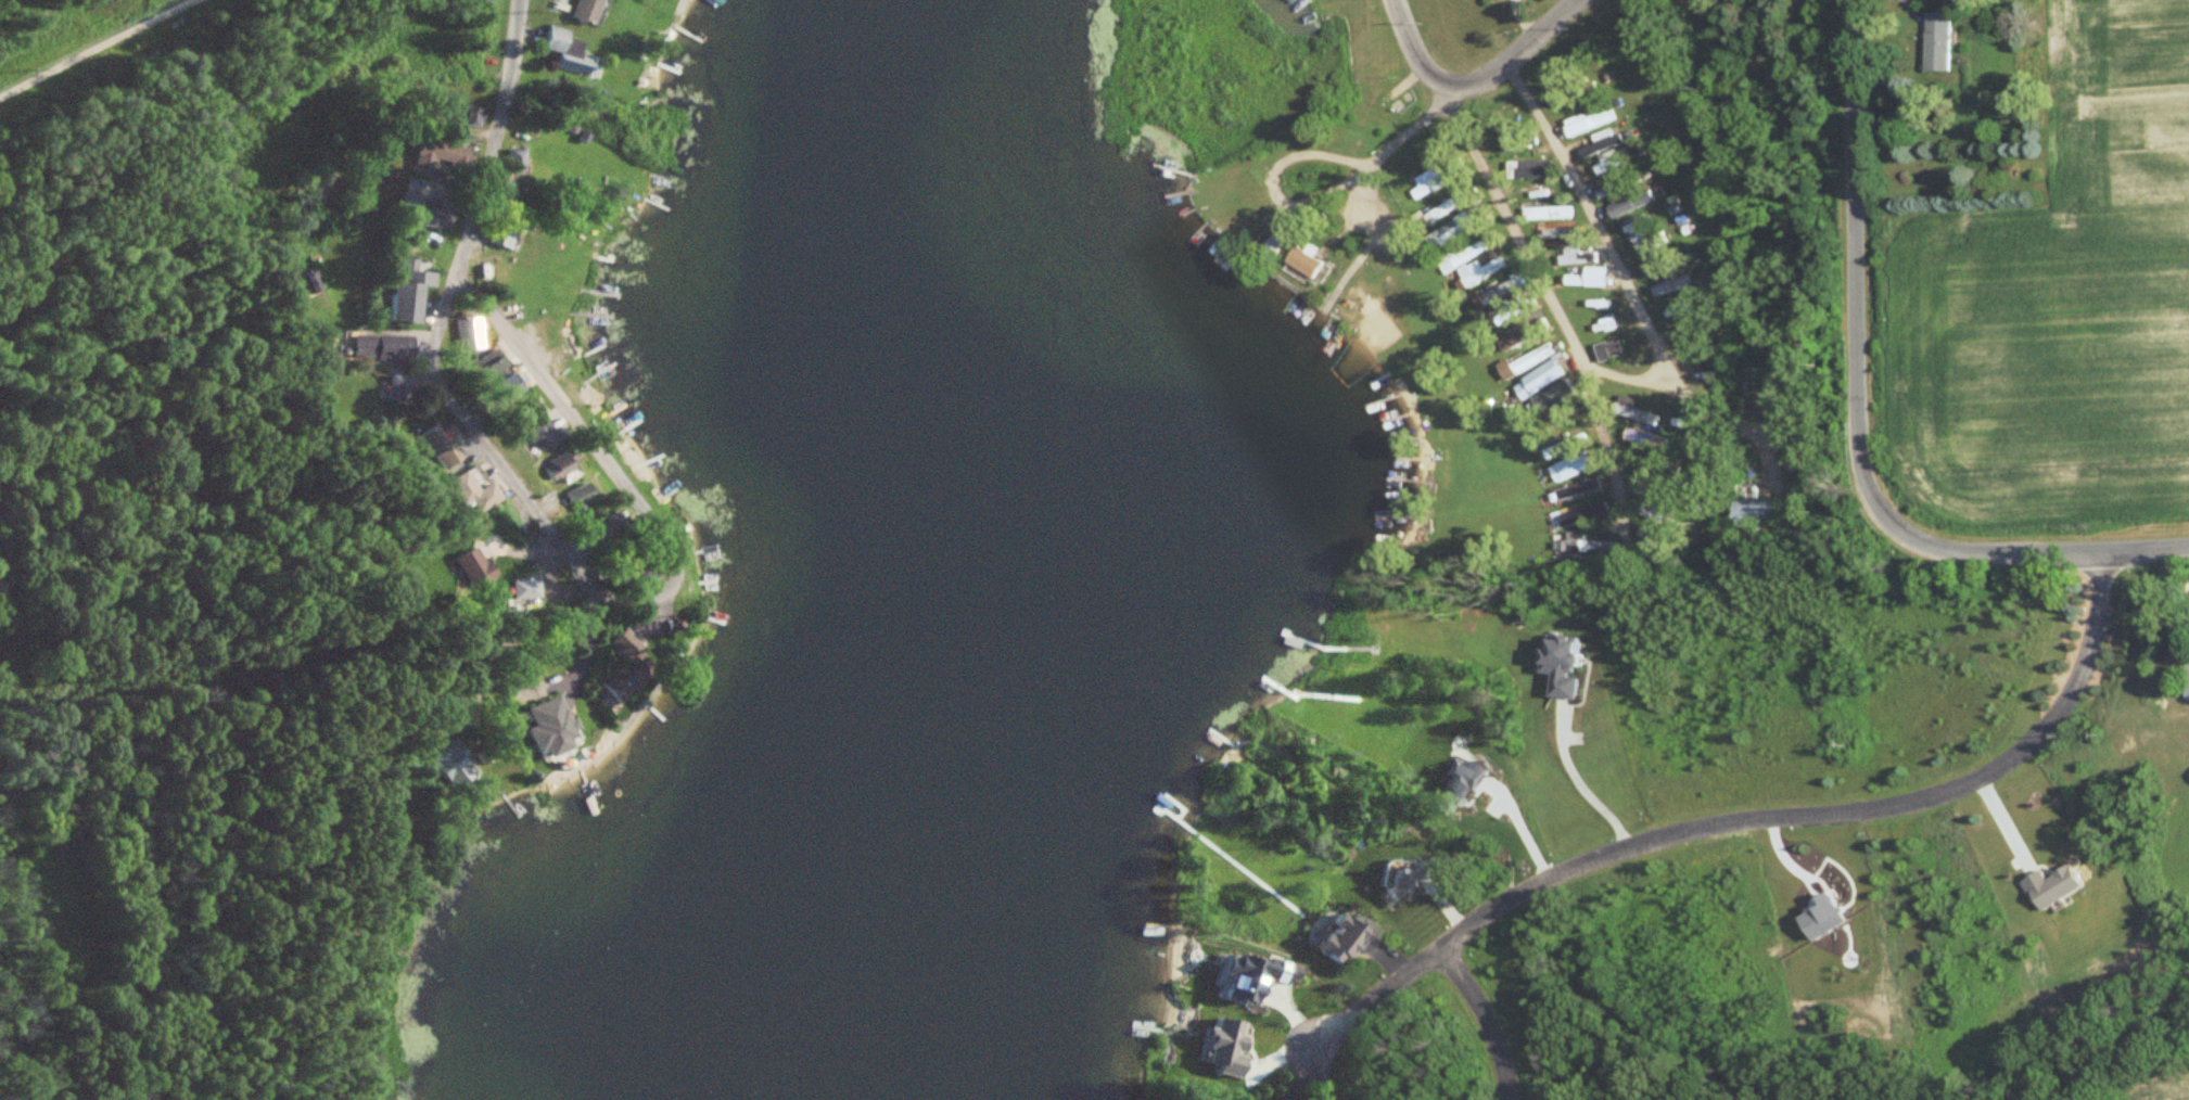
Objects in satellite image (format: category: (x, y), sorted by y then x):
building: (583, 11)
building: (1940, 43)
road: (1410, 44)
road: (93, 46)
building: (564, 52)
road: (1516, 55)
building: (472, 116)
building: (1591, 124)
road: (494, 145)
building: (1603, 145)
building: (440, 157)
building: (516, 159)
road: (1361, 166)
building: (1530, 171)
building: (1429, 184)
building: (1538, 194)
road: (1369, 200)
road: (1588, 206)
building: (1632, 207)
building: (1442, 213)
building: (425, 214)
building: (1542, 217)
road: (1856, 226)
building: (502, 235)
building: (1551, 235)
building: (1448, 236)
building: (1645, 244)
building: (1274, 250)
building: (1573, 257)
building: (1459, 259)
building: (1307, 264)
building: (1653, 267)
building: (1574, 282)
building: (1672, 285)
building: (1501, 292)
building: (409, 293)
road: (1553, 300)
building: (1595, 303)
building: (1515, 314)
building: (1684, 314)
building: (1601, 325)
road: (435, 327)
building: (470, 334)
building: (382, 348)
building: (1611, 353)
building: (492, 364)
road: (1633, 378)
building: (1543, 379)
building: (510, 387)
building: (396, 388)
building: (1549, 402)
road: (1725, 419)
building: (536, 427)
building: (435, 448)
building: (556, 468)
building: (1571, 469)
building: (470, 490)
building: (1571, 493)
building: (574, 497)
building: (1650, 512)
building: (1585, 516)
building: (1758, 519)
building: (604, 530)
building: (1587, 546)
road: (1996, 553)
road: (678, 565)
building: (470, 570)
building: (637, 573)
building: (520, 590)
building: (1565, 666)
building: (622, 678)
building: (2186, 683)
road: (517, 691)
building: (544, 727)
building: (446, 764)
road: (1585, 785)
road: (1757, 817)
building: (1408, 882)
building: (1341, 939)
road: (1487, 1018)
road: (1326, 1071)

